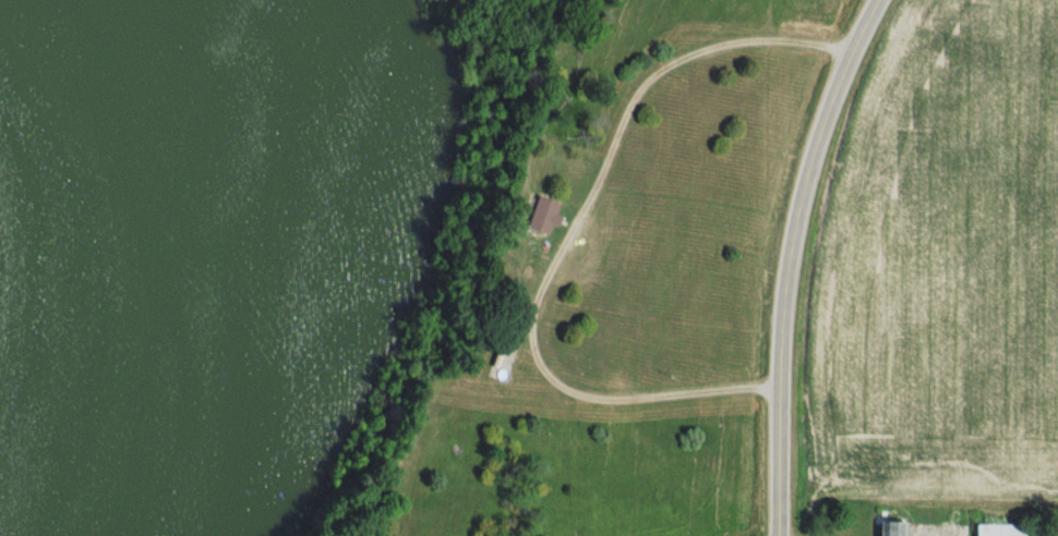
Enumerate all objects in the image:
building: (540, 217)
road: (575, 236)
road: (793, 260)
building: (889, 525)
building: (997, 529)

